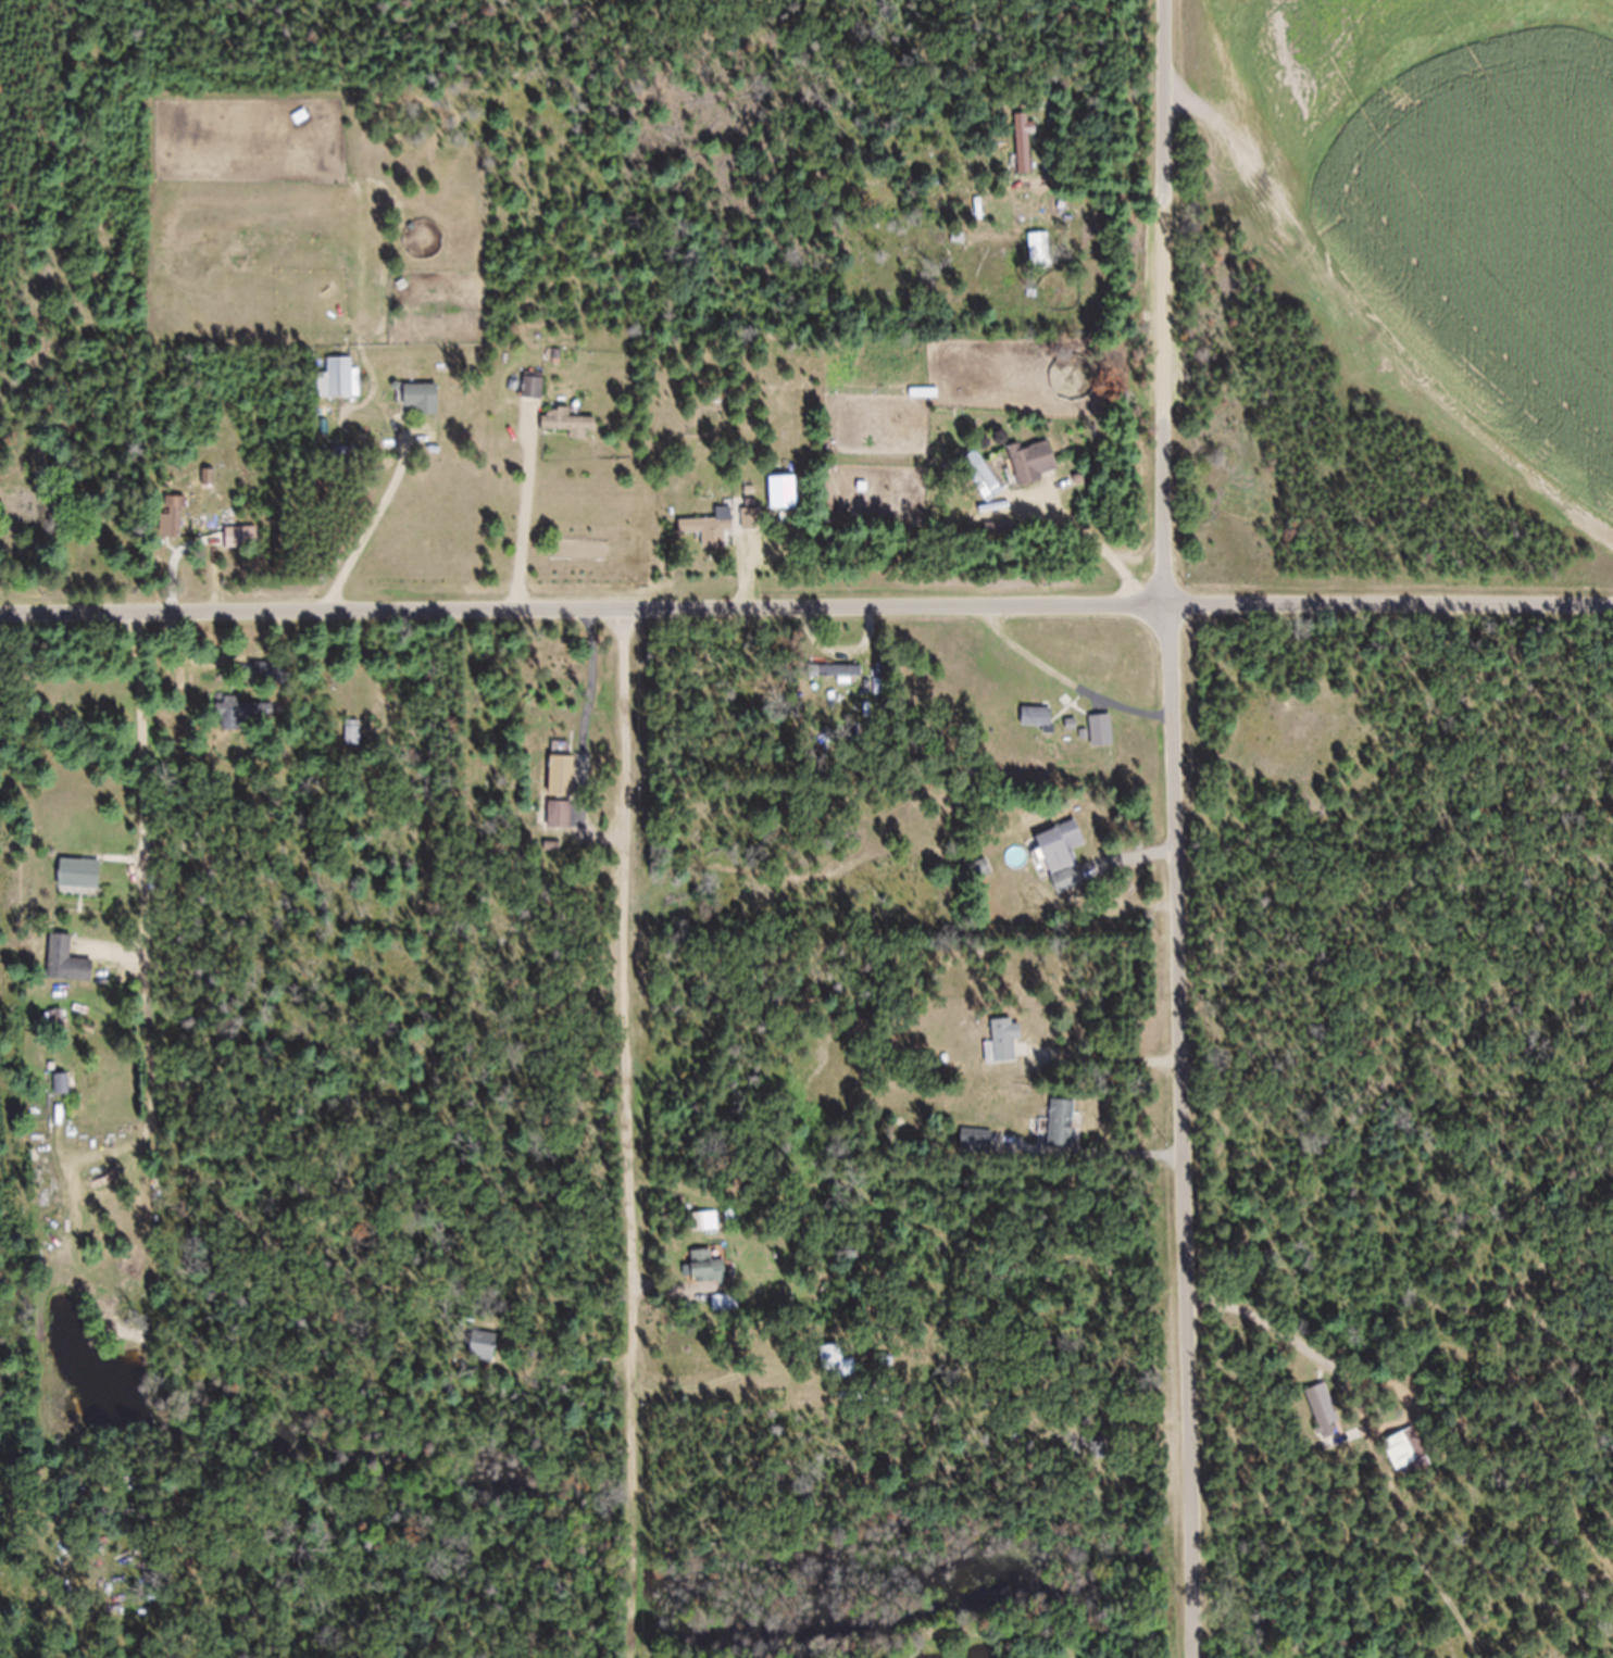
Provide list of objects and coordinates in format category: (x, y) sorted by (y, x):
building: (1026, 155)
building: (1041, 261)
building: (343, 391)
building: (534, 398)
building: (423, 412)
building: (570, 436)
building: (1034, 475)
building: (210, 489)
building: (987, 495)
building: (174, 530)
building: (711, 536)
building: (242, 549)
road: (805, 599)
building: (841, 683)
building: (246, 725)
building: (1040, 729)
building: (1103, 742)
building: (354, 744)
building: (562, 788)
building: (561, 826)
road: (1175, 829)
building: (1064, 867)
building: (79, 884)
building: (67, 972)
building: (1005, 1051)
building: (63, 1095)
road: (630, 1128)
building: (1062, 1134)
building: (977, 1153)
building: (707, 1233)
building: (709, 1280)
building: (484, 1358)
building: (834, 1374)
building: (1325, 1423)
building: (1086, 1458)
building: (1406, 1460)

